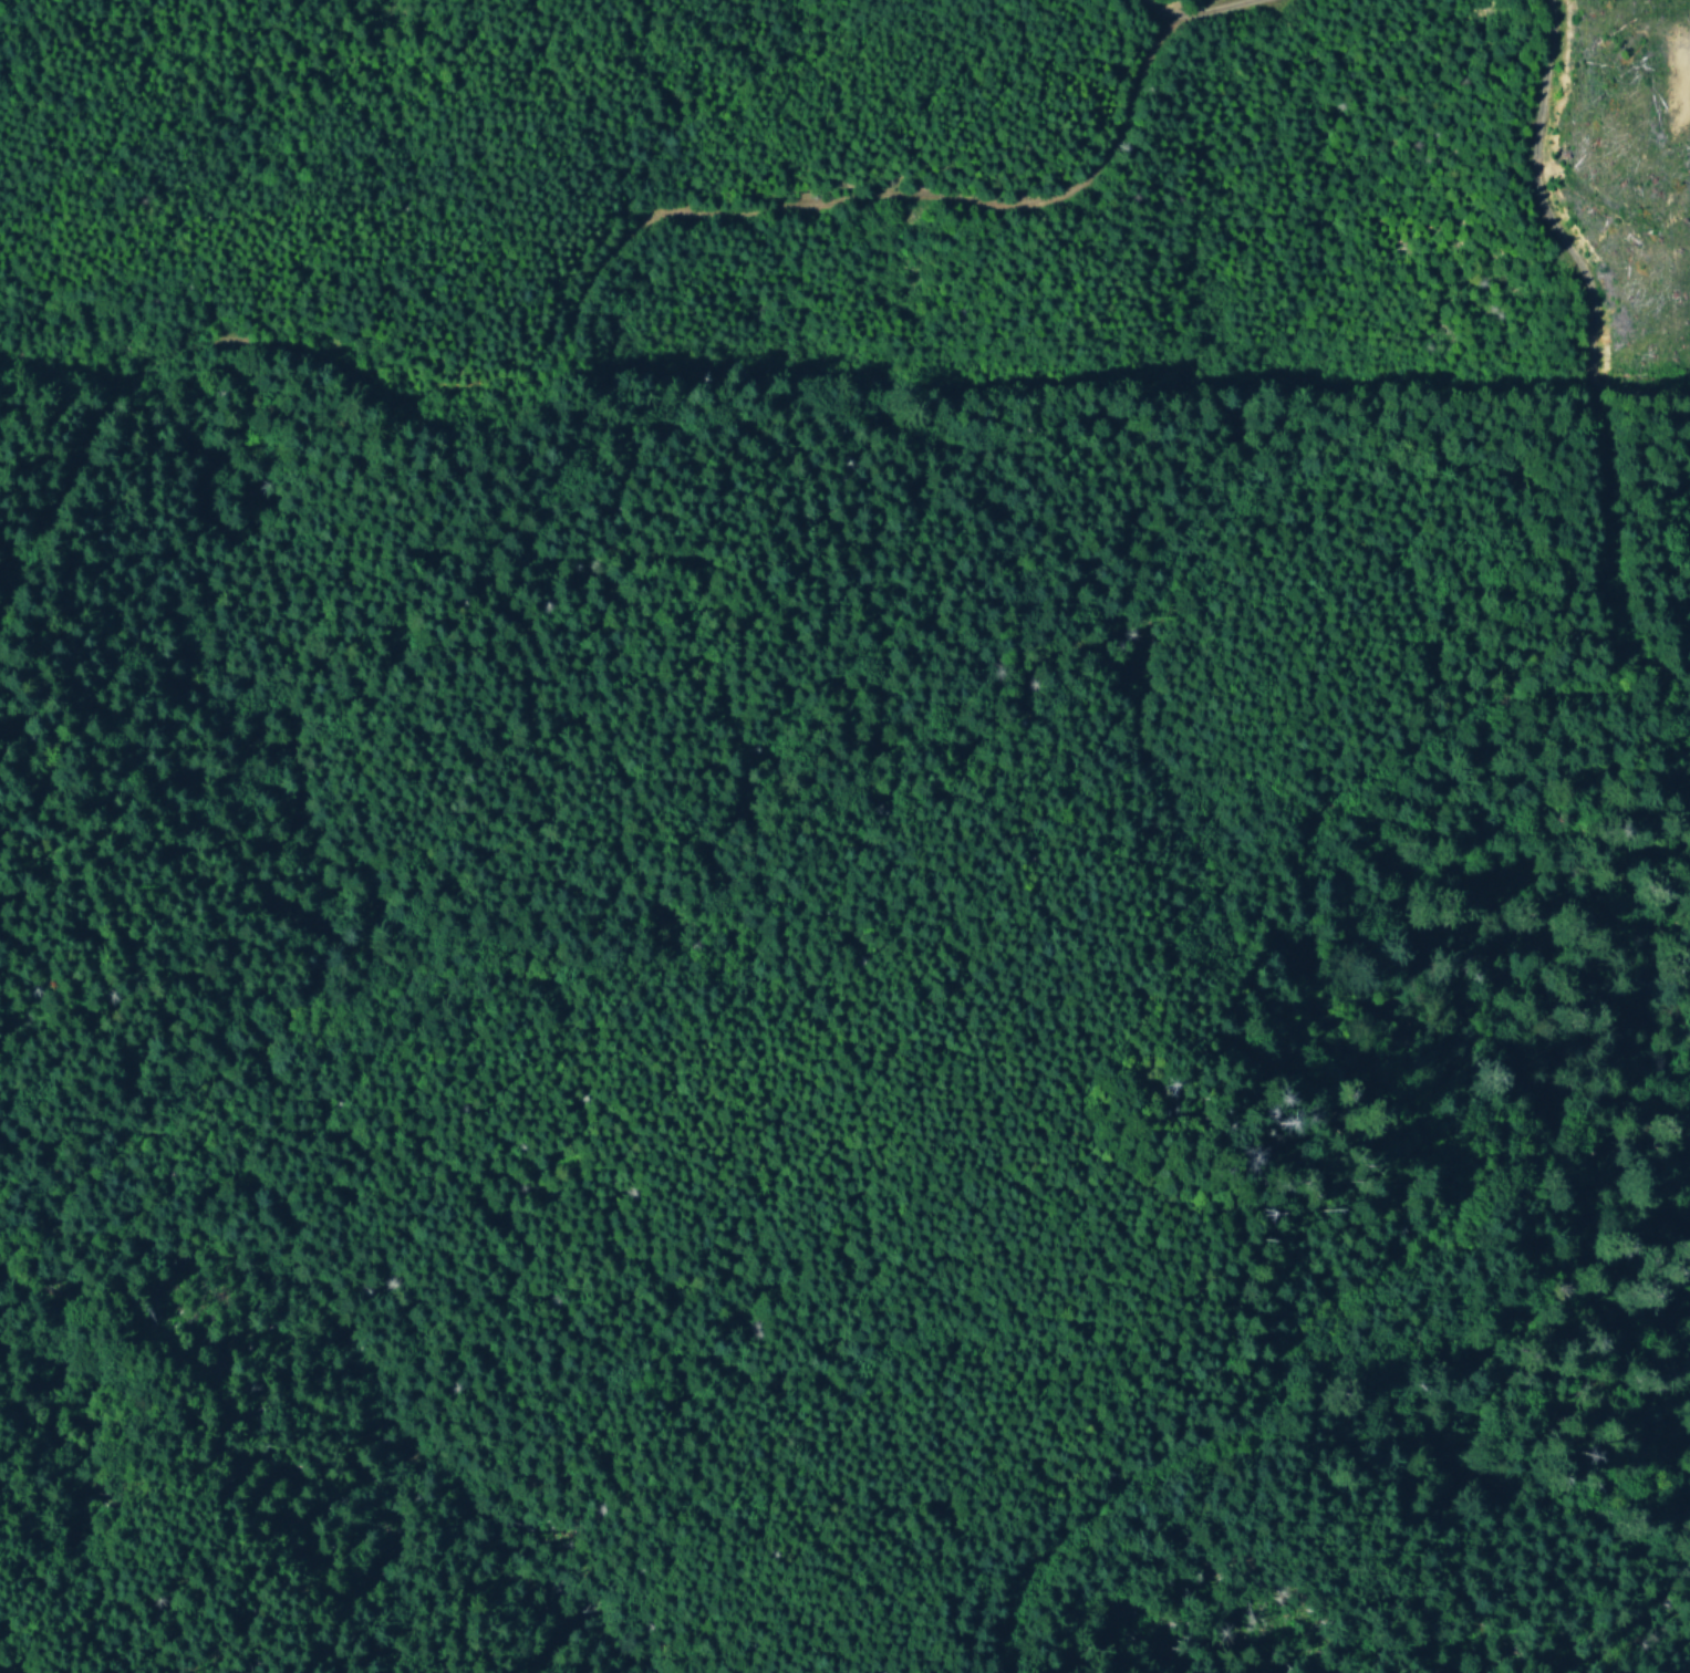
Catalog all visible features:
road: (1206, 12)
road: (572, 316)
road: (1264, 877)

